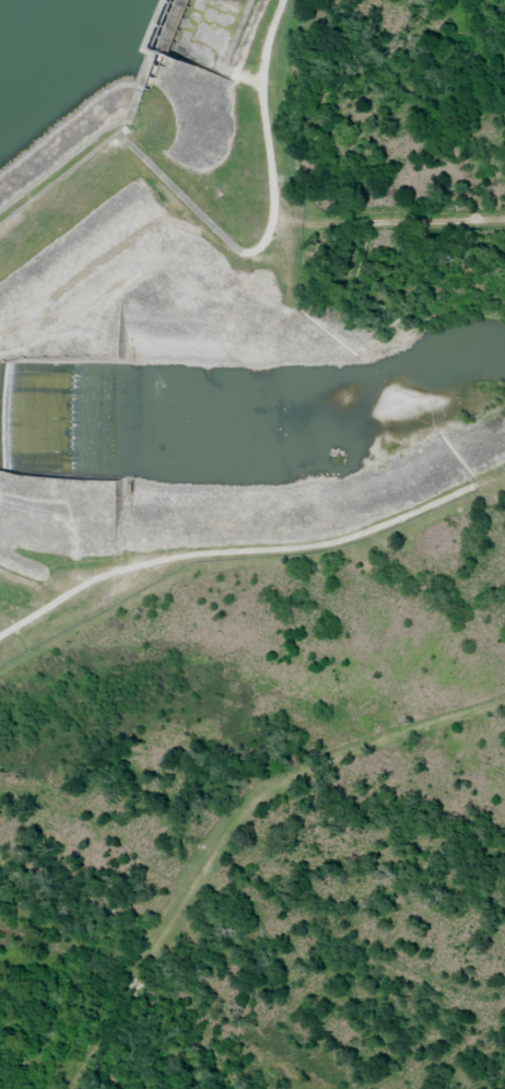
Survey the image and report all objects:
dam: (200, 81)
road: (260, 106)
road: (406, 220)
river: (257, 420)
road: (228, 828)

